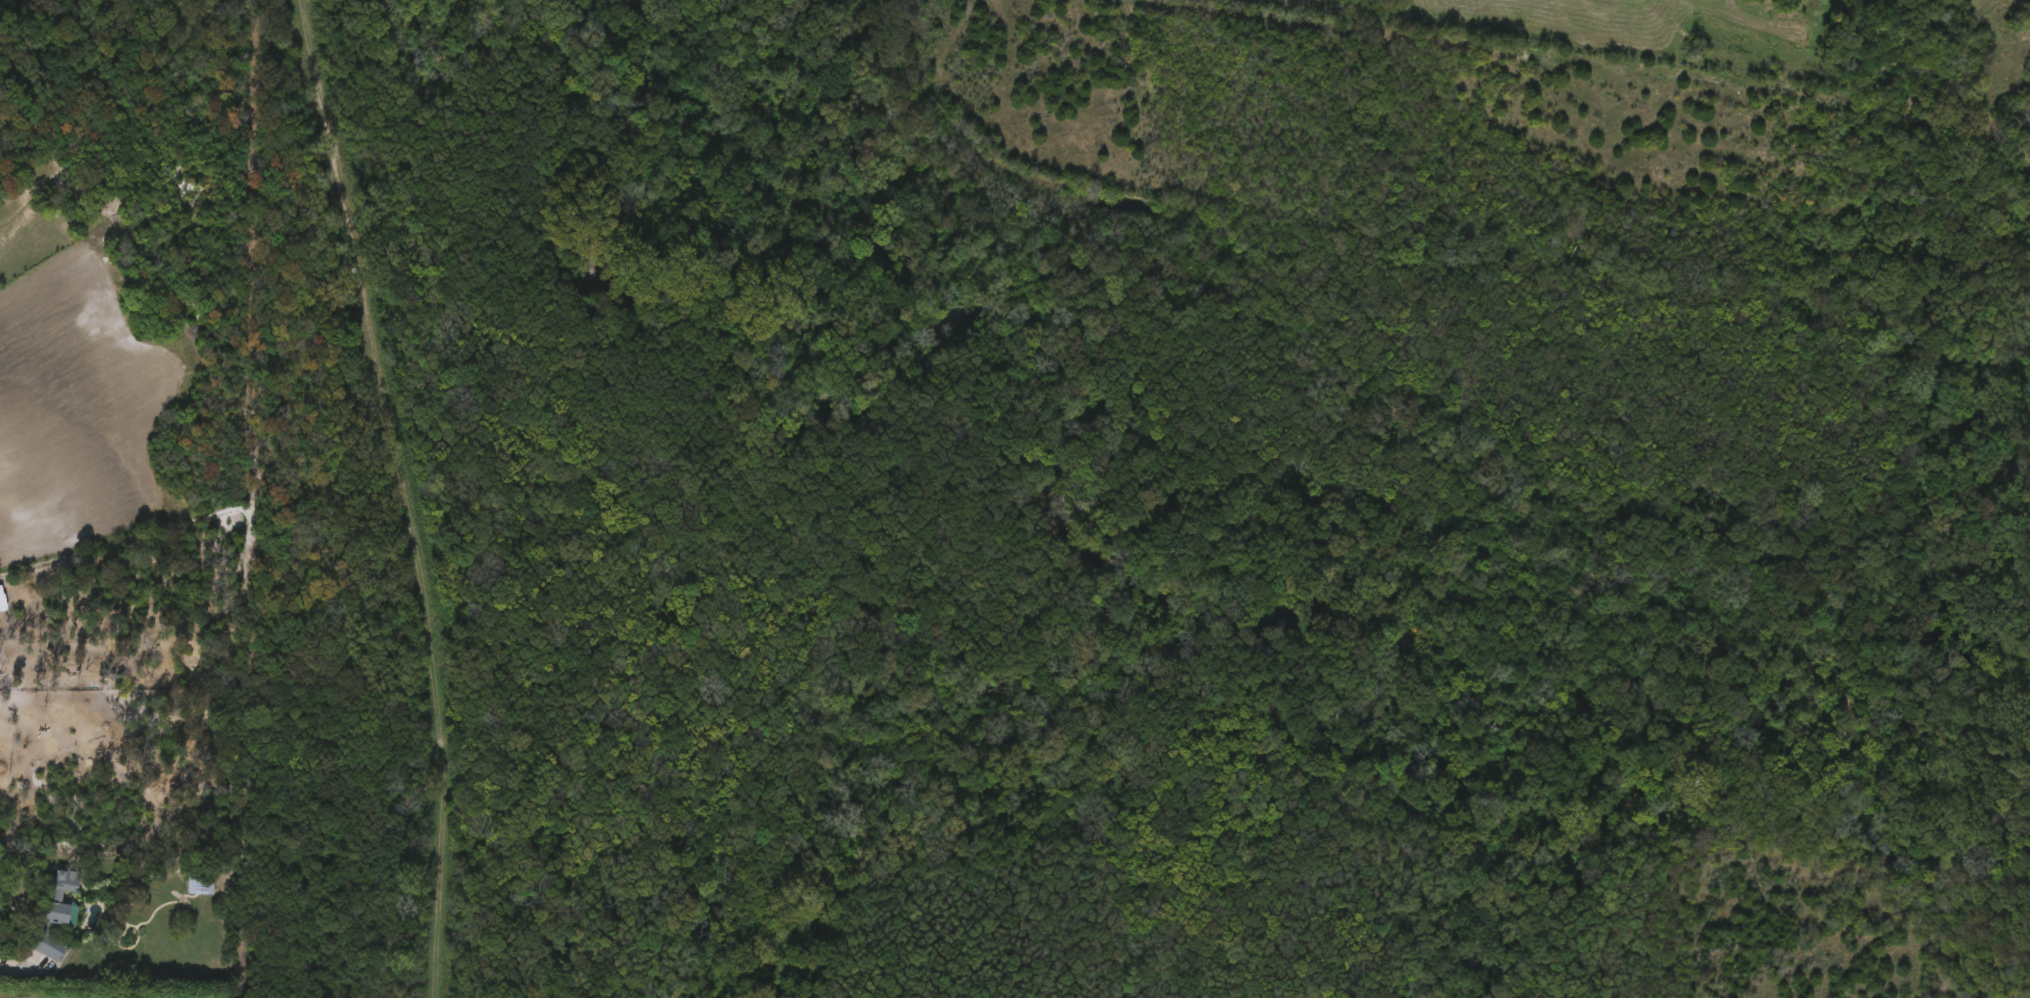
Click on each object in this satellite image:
building: (199, 885)
building: (51, 918)
road: (16, 972)

